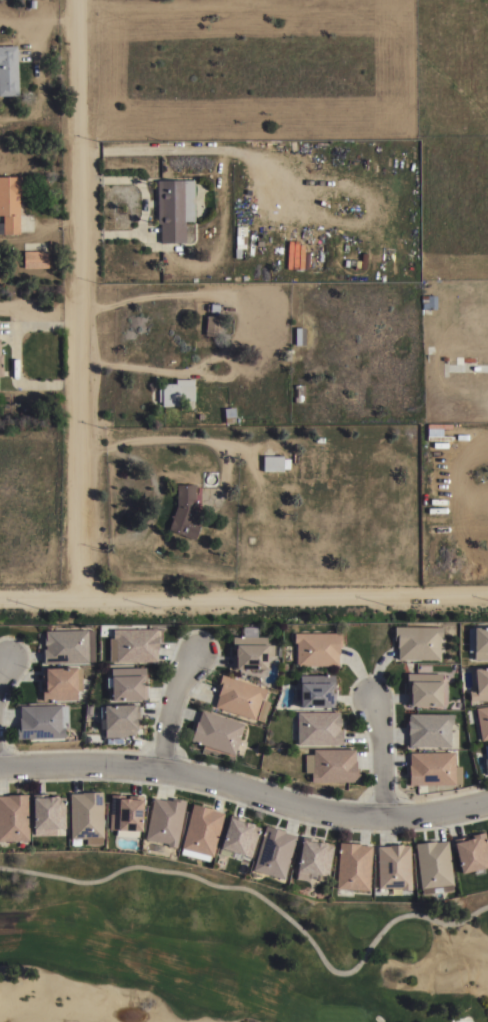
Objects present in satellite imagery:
building: (8, 70)
building: (9, 204)
road: (143, 206)
building: (174, 209)
building: (35, 259)
road: (80, 298)
building: (428, 302)
building: (212, 326)
building: (299, 336)
road: (15, 355)
building: (1, 365)
building: (176, 392)
building: (299, 394)
building: (229, 415)
building: (437, 432)
building: (274, 463)
building: (185, 513)
road: (244, 595)
building: (417, 641)
building: (480, 642)
building: (135, 644)
building: (66, 646)
building: (316, 648)
building: (249, 651)
road: (2, 664)
building: (60, 682)
building: (127, 682)
building: (480, 683)
building: (423, 688)
building: (314, 690)
building: (240, 698)
road: (170, 712)
building: (119, 720)
building: (41, 721)
building: (482, 721)
building: (317, 727)
building: (429, 729)
building: (216, 731)
building: (486, 753)
road: (380, 759)
building: (331, 765)
building: (433, 768)
road: (244, 791)
building: (125, 813)
building: (48, 815)
building: (13, 817)
building: (86, 817)
building: (165, 820)
building: (201, 830)
building: (238, 837)
building: (273, 852)
building: (471, 854)
building: (312, 859)
building: (393, 866)
building: (433, 866)
building: (352, 867)
park: (226, 950)

